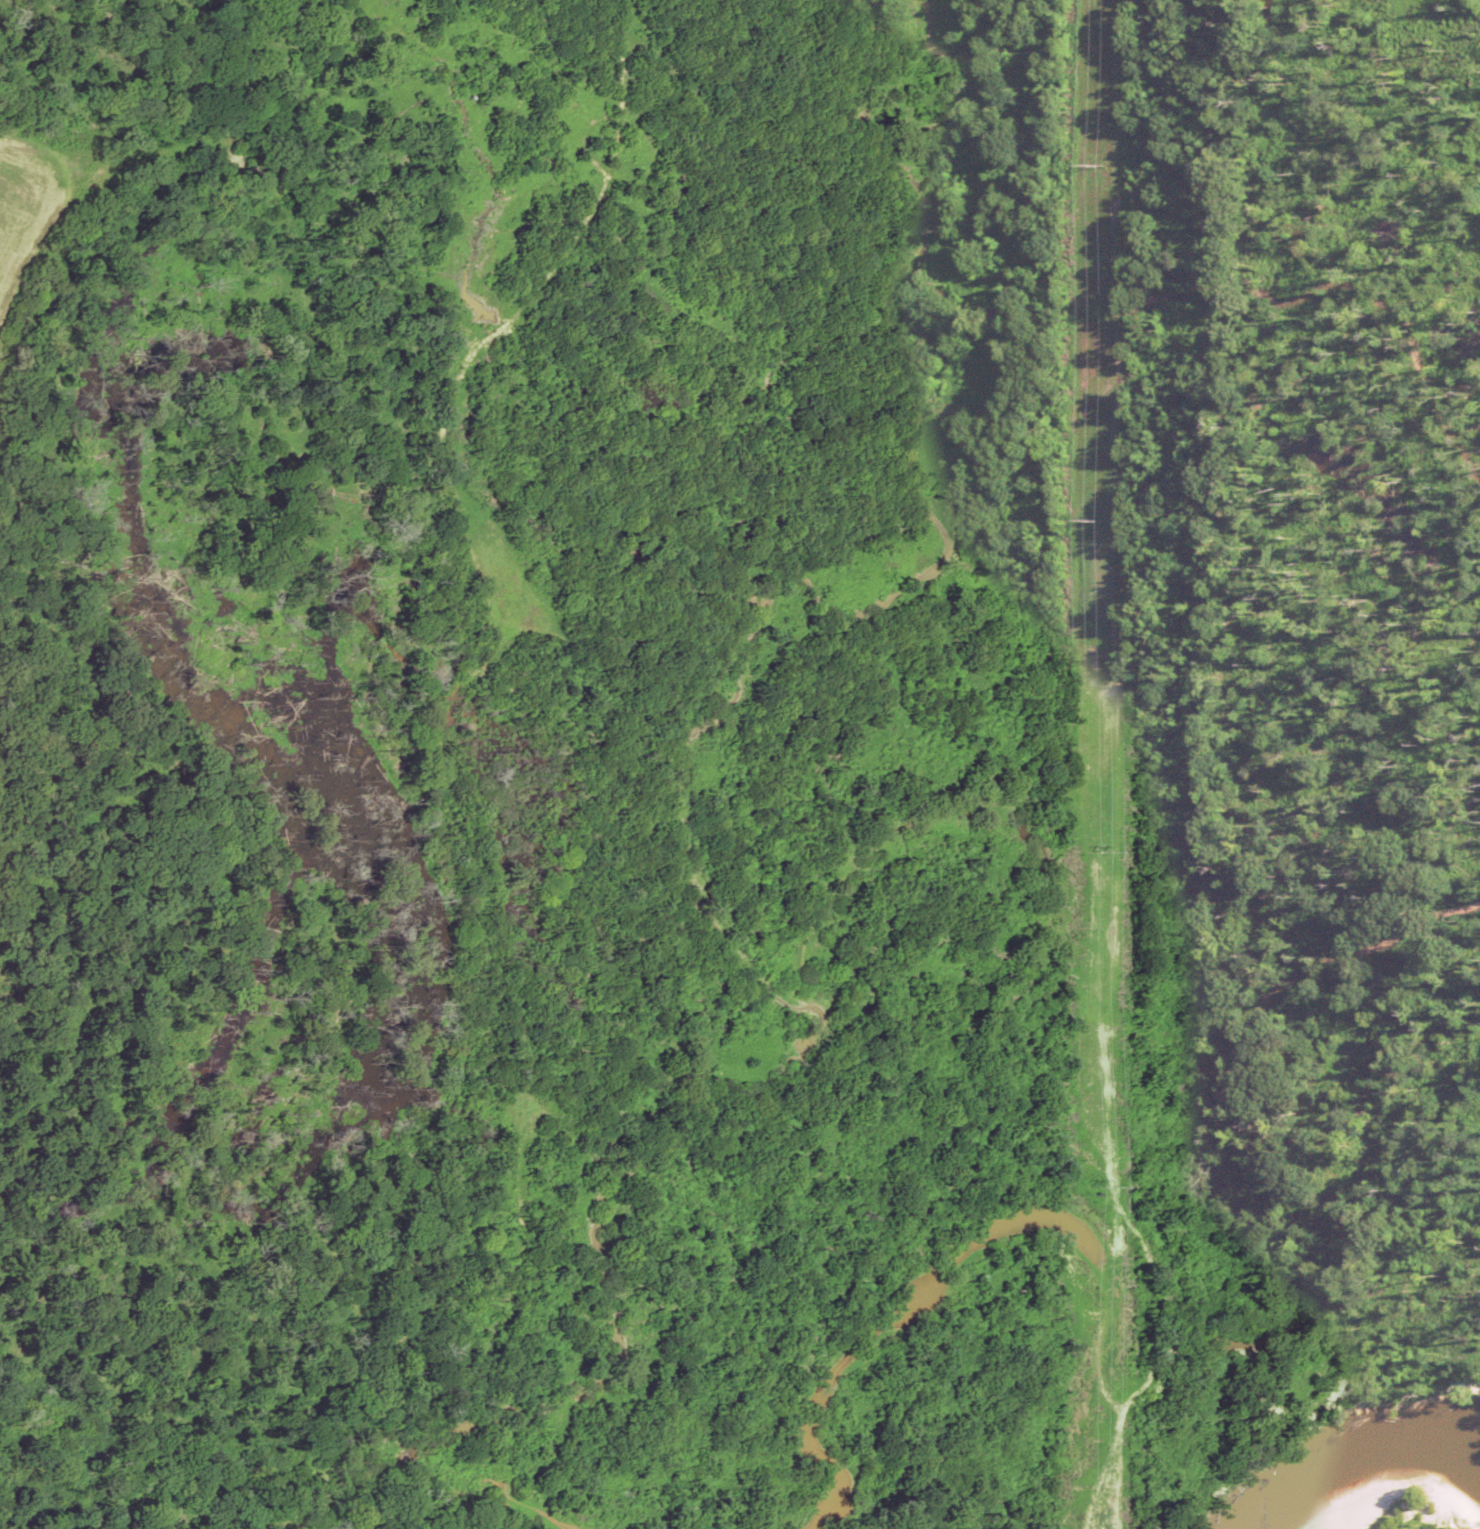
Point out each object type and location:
power tower: (1096, 163)
power tower: (1096, 519)
power tower: (1094, 851)
power tower: (1093, 1190)
river: (1397, 1486)

